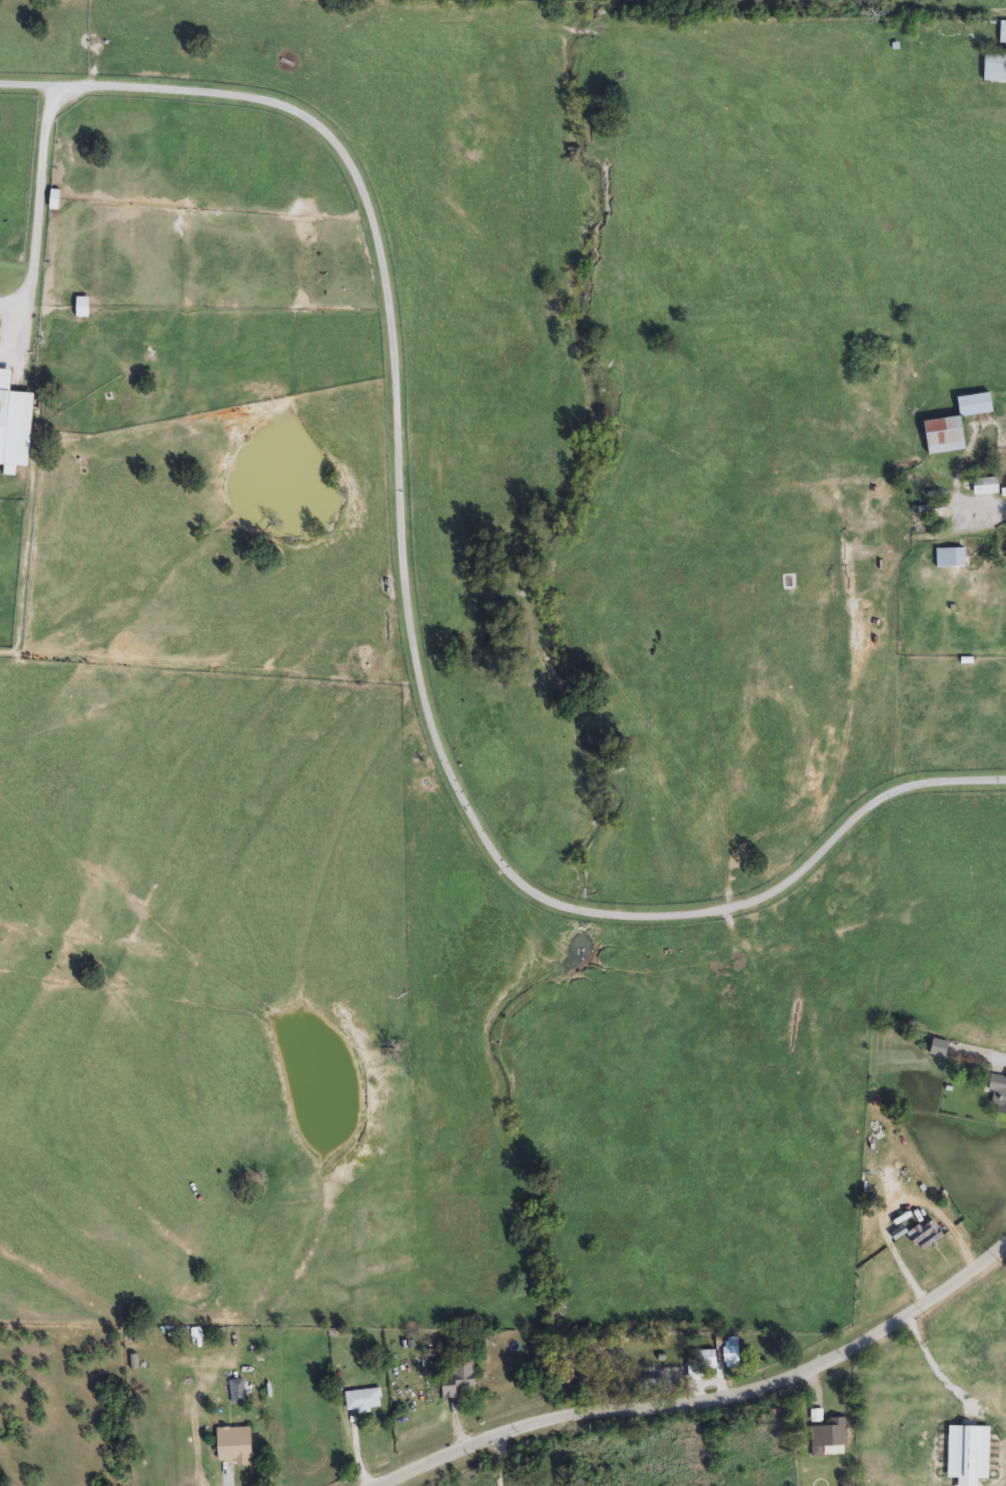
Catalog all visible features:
building: (996, 68)
road: (34, 84)
road: (12, 305)
building: (16, 422)
building: (958, 426)
building: (989, 487)
road: (984, 505)
road: (394, 514)
building: (952, 559)
building: (940, 1049)
building: (997, 1095)
road: (838, 1350)
building: (733, 1353)
road: (935, 1366)
building: (460, 1381)
building: (240, 1391)
building: (365, 1401)
road: (507, 1435)
building: (829, 1435)
building: (237, 1445)
building: (969, 1454)

